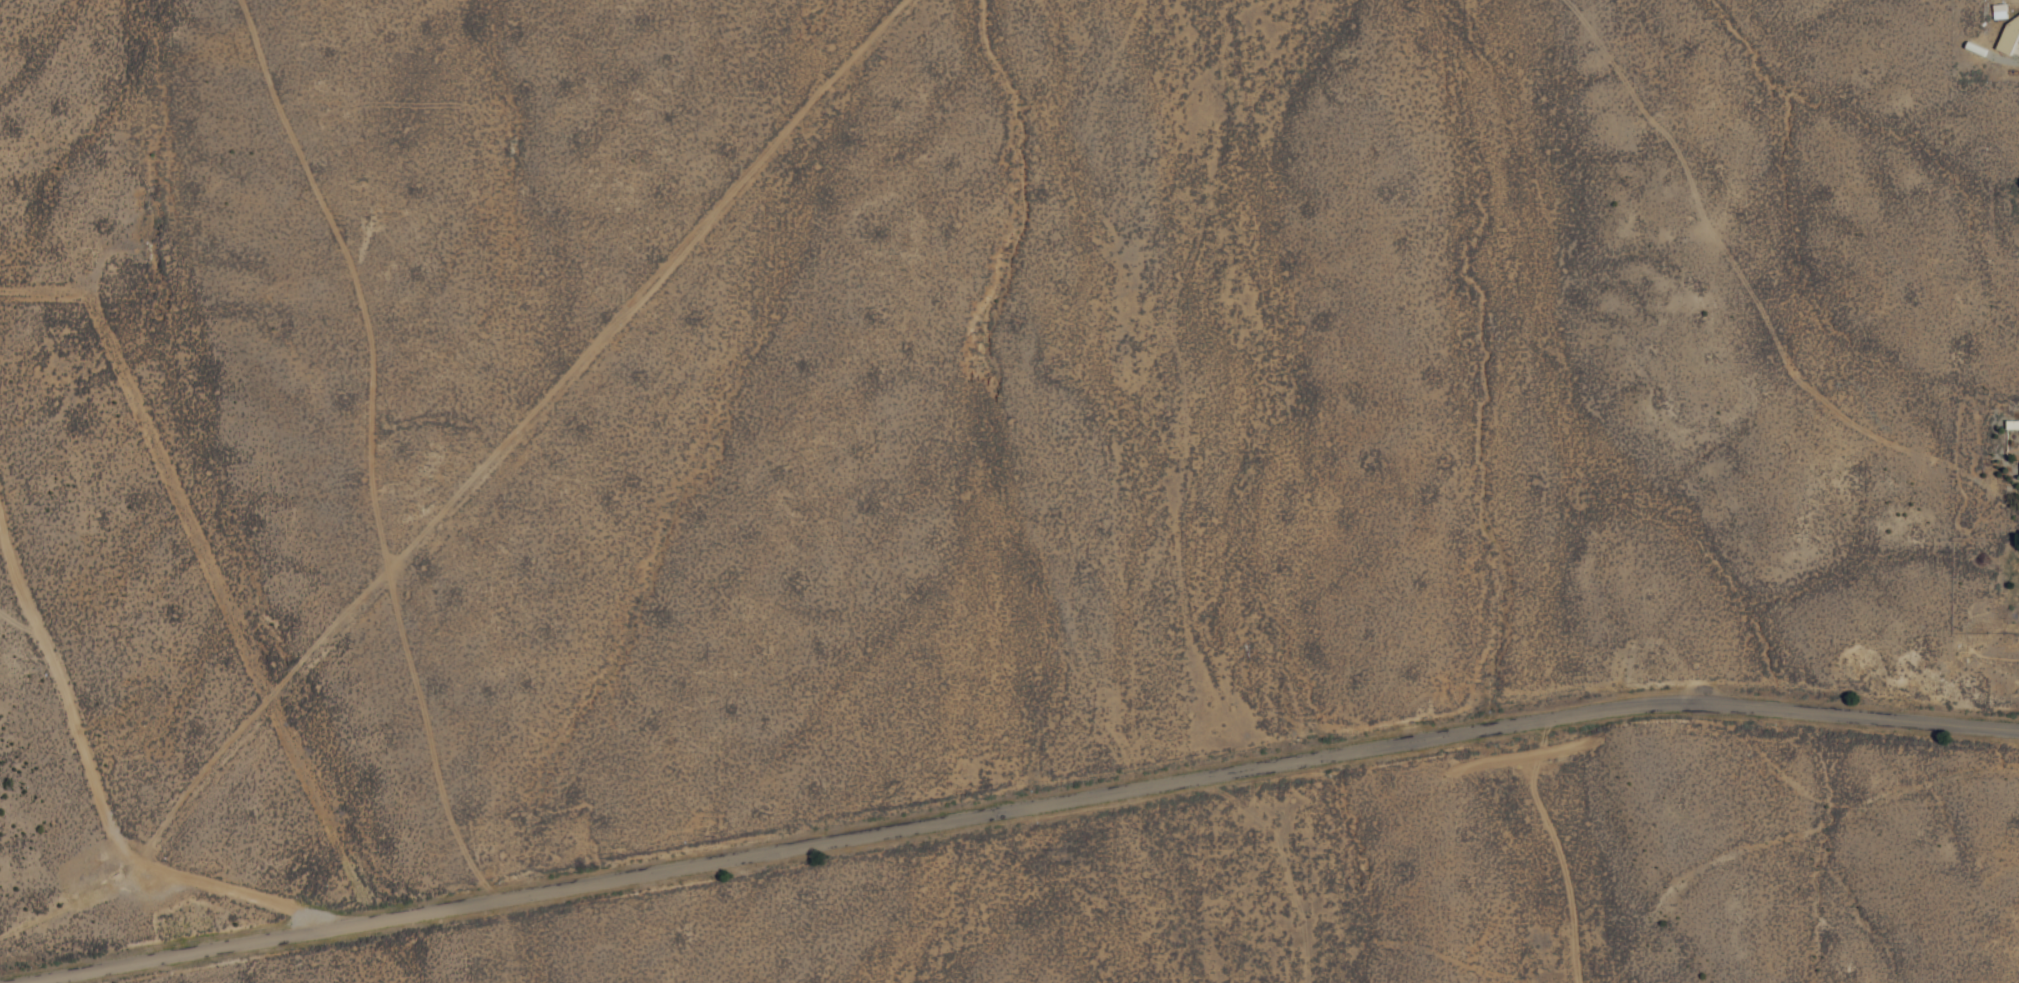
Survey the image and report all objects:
building: (1999, 10)
building: (2011, 423)
road: (1007, 808)

